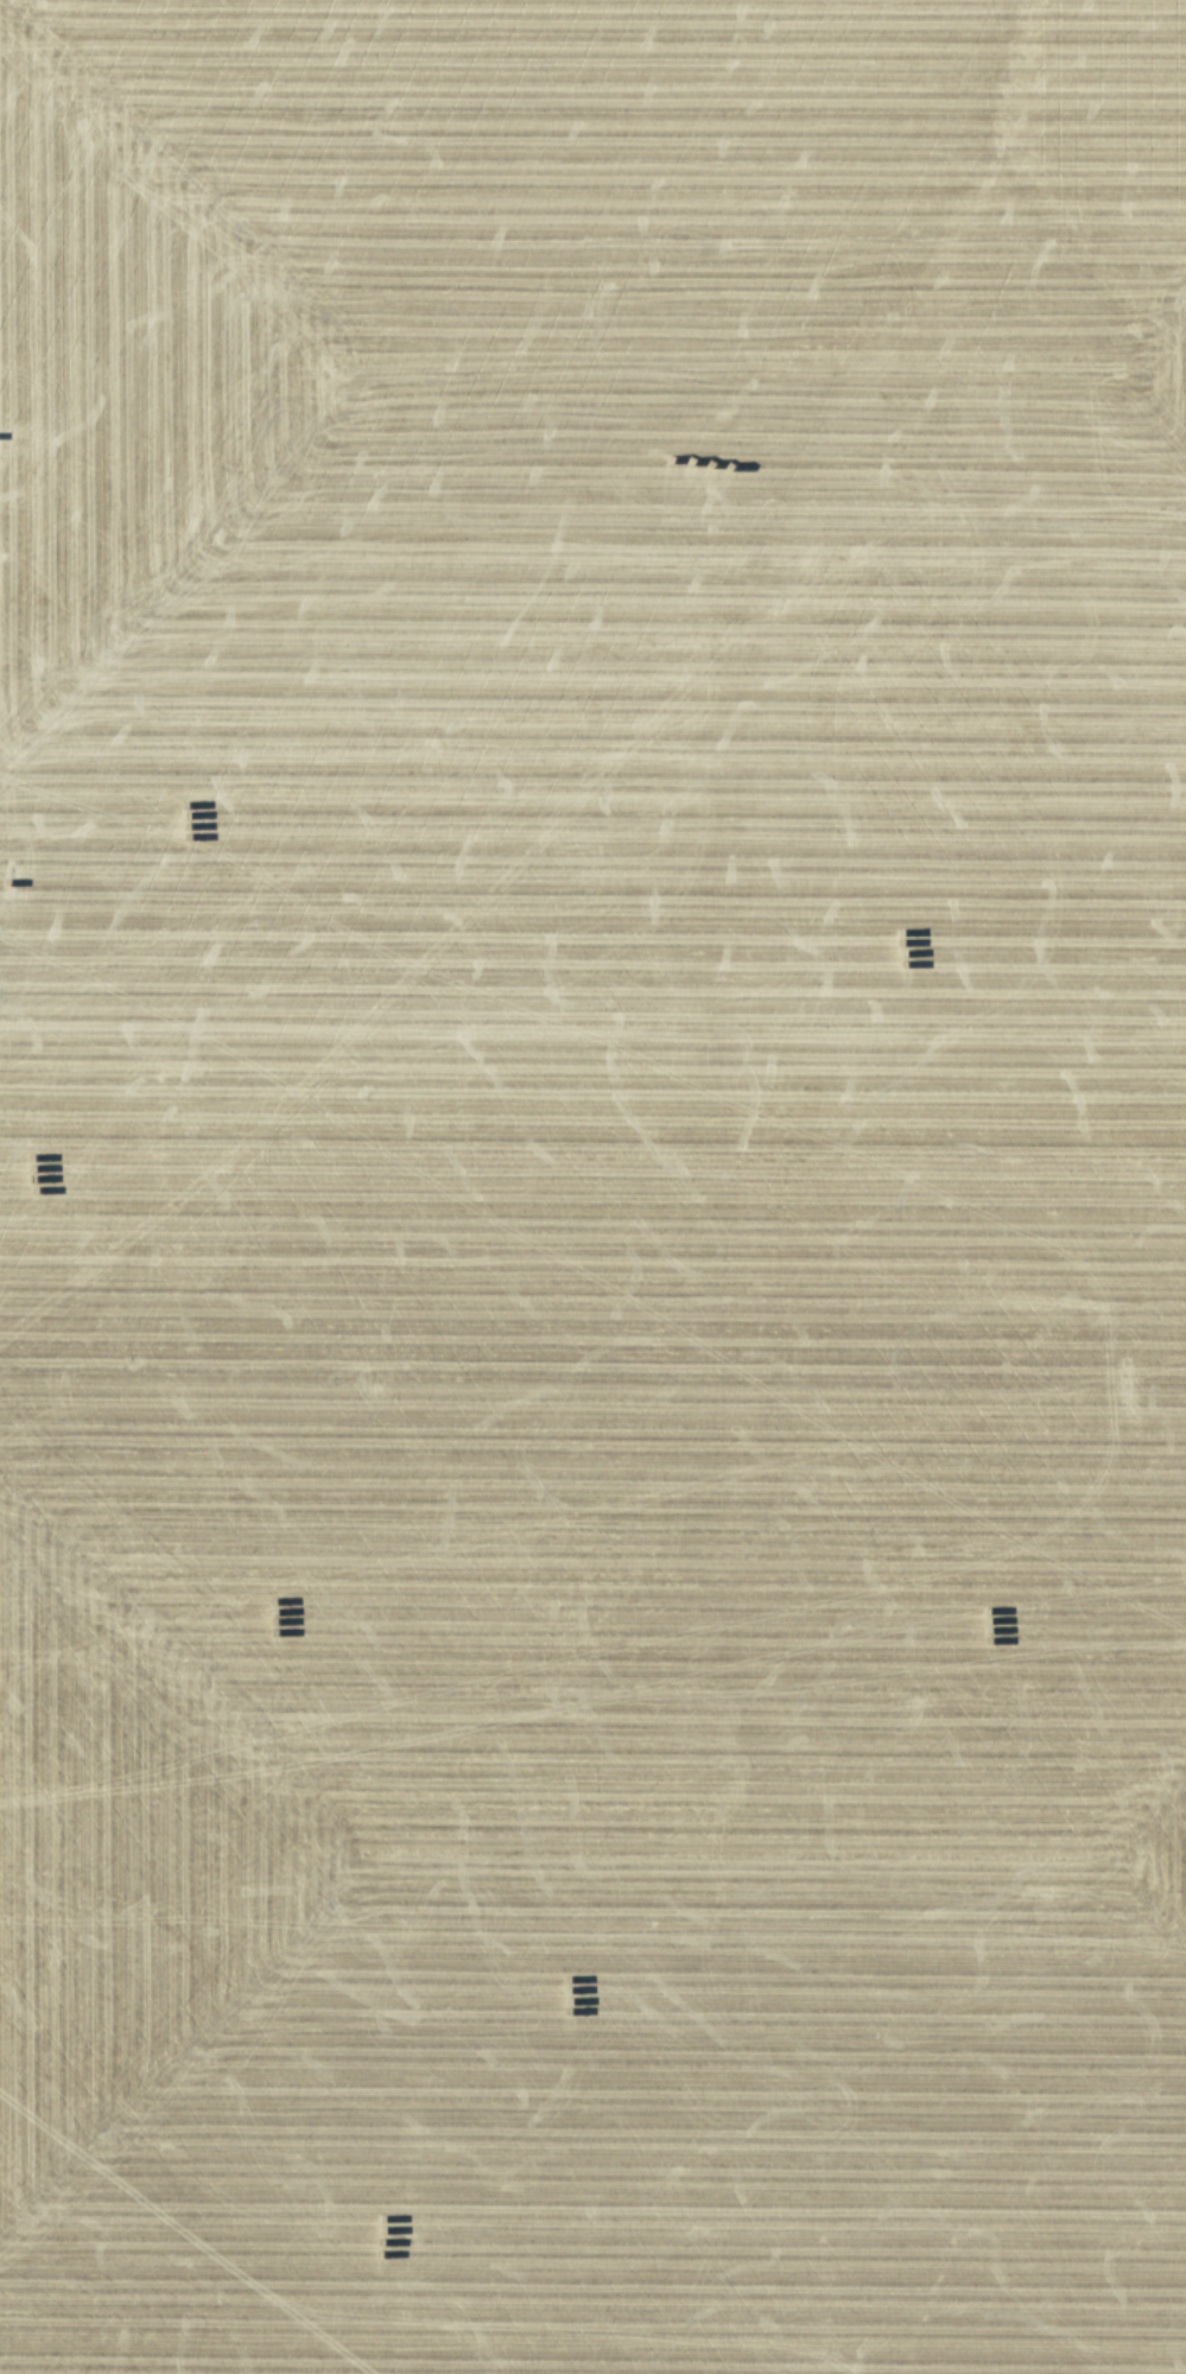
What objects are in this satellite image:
crop: (592, 1187)

